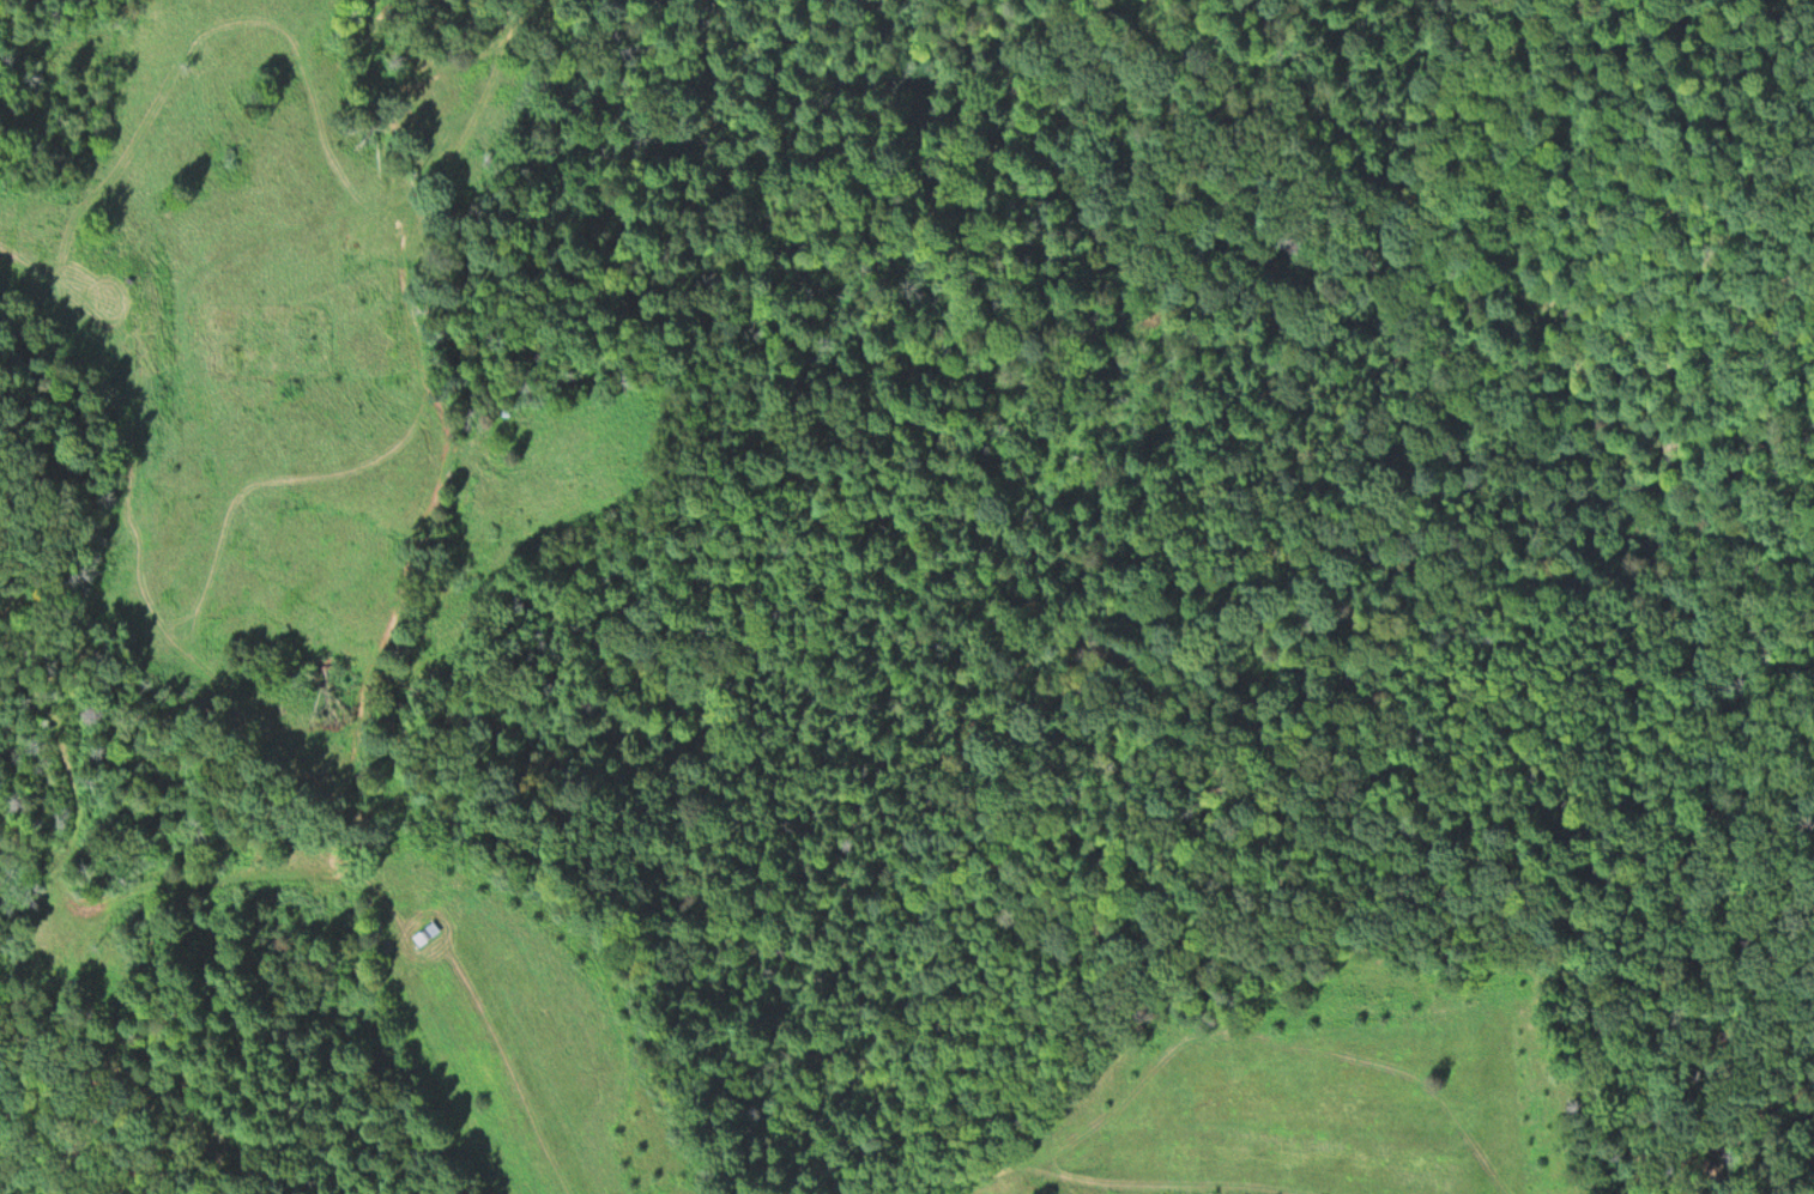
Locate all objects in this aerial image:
road: (424, 80)
road: (433, 446)
road: (273, 869)
road: (1065, 1158)

